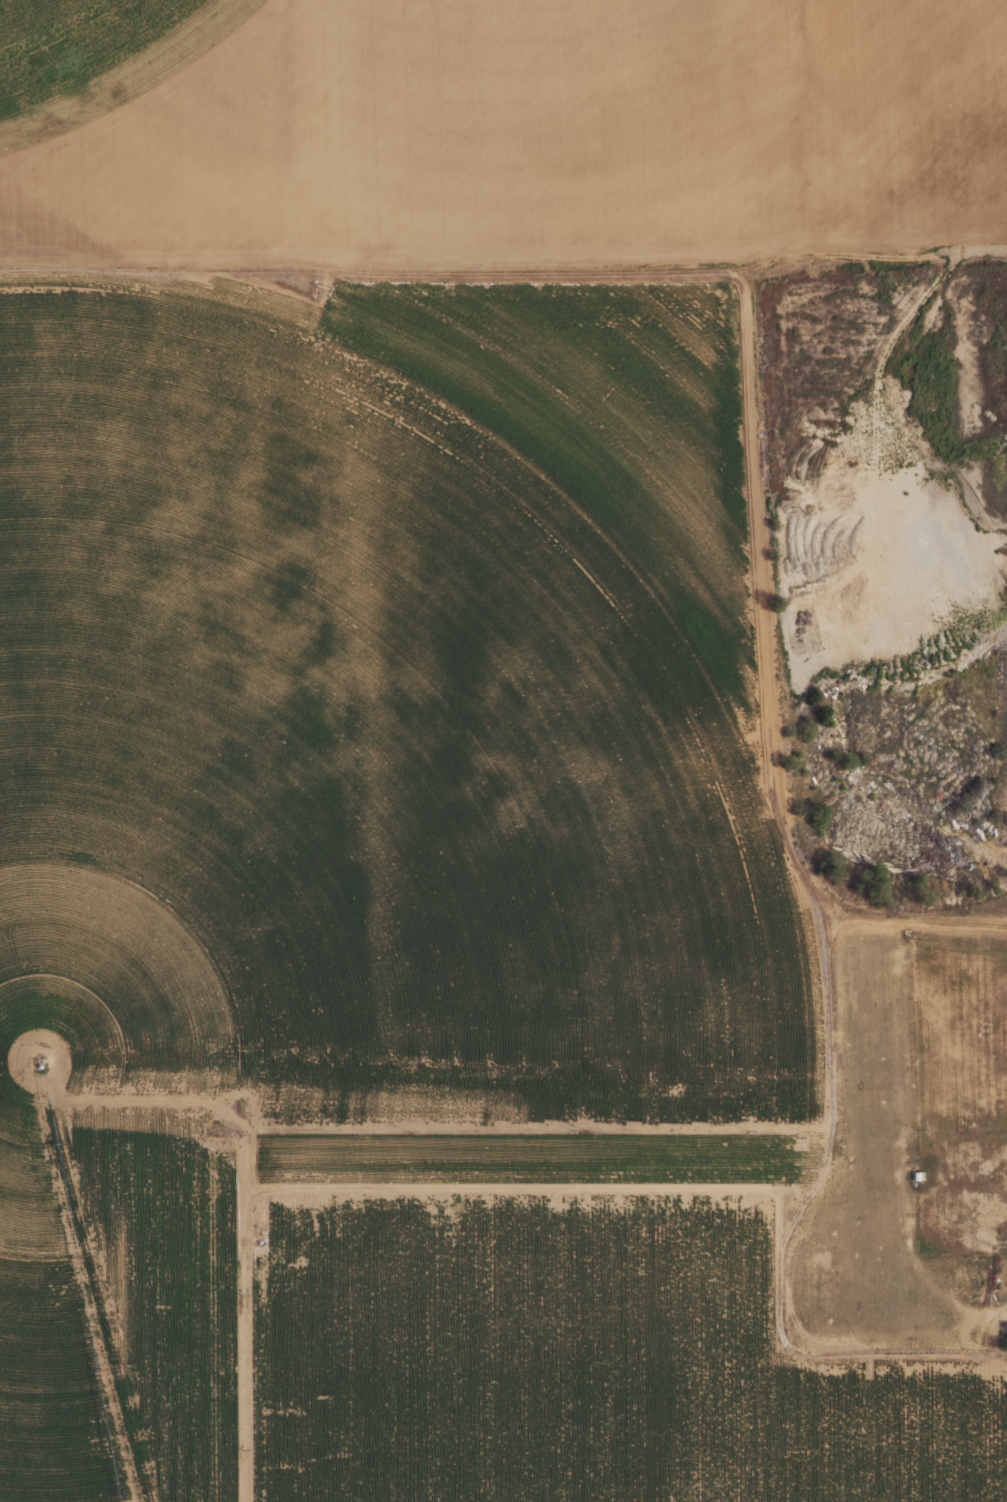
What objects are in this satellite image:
road: (210, 200)
road: (612, 269)
road: (873, 453)
road: (761, 599)
road: (916, 922)
building: (41, 1066)
road: (900, 1165)
building: (914, 1175)
road: (316, 1187)
crop: (124, 1264)
building: (1005, 1334)

